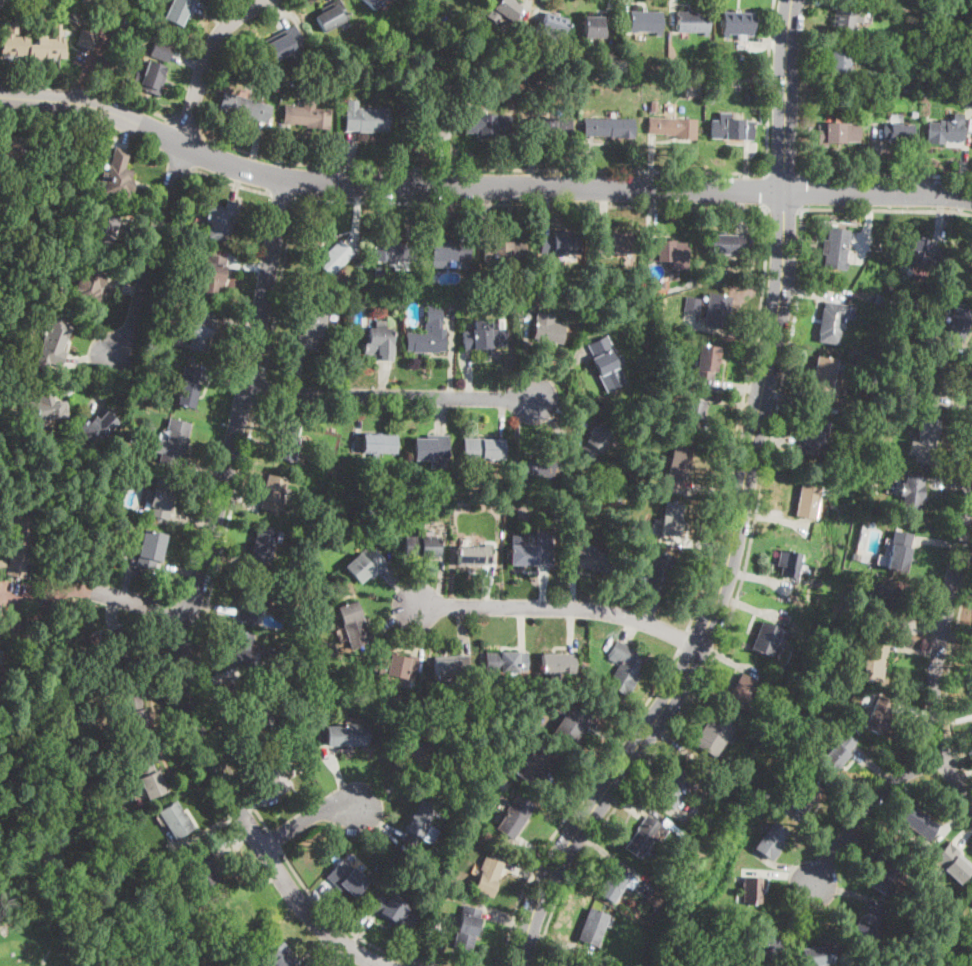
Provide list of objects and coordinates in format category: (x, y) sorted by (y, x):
building: (1, 1)
building: (73, 1)
building: (430, 2)
building: (372, 3)
building: (505, 9)
building: (180, 10)
building: (332, 15)
building: (846, 19)
building: (646, 22)
building: (693, 22)
building: (738, 24)
building: (556, 27)
building: (594, 27)
building: (904, 39)
building: (87, 40)
building: (284, 43)
building: (34, 44)
road: (99, 51)
building: (161, 51)
building: (506, 57)
building: (839, 61)
building: (394, 63)
building: (419, 63)
building: (516, 69)
building: (415, 76)
building: (152, 77)
building: (322, 80)
building: (536, 81)
building: (513, 86)
road: (769, 86)
building: (861, 89)
building: (907, 89)
building: (437, 91)
building: (756, 91)
road: (787, 96)
building: (968, 100)
road: (140, 105)
building: (653, 105)
road: (94, 106)
building: (245, 107)
building: (914, 112)
building: (307, 115)
building: (366, 118)
building: (427, 120)
building: (489, 124)
road: (185, 126)
building: (609, 127)
building: (676, 127)
building: (550, 128)
building: (730, 128)
building: (945, 131)
building: (837, 133)
building: (898, 133)
building: (15, 152)
road: (175, 168)
road: (480, 169)
road: (784, 174)
road: (886, 176)
building: (119, 177)
road: (229, 182)
road: (480, 186)
road: (767, 191)
road: (801, 191)
road: (878, 193)
road: (282, 195)
building: (2, 202)
road: (439, 203)
road: (784, 209)
road: (887, 210)
building: (221, 220)
building: (103, 229)
building: (615, 242)
building: (560, 243)
building: (728, 244)
building: (834, 248)
building: (447, 251)
building: (920, 251)
building: (394, 252)
building: (505, 252)
building: (668, 253)
building: (335, 258)
building: (358, 261)
building: (214, 275)
building: (744, 275)
building: (708, 278)
building: (90, 284)
building: (541, 285)
building: (879, 296)
building: (425, 297)
building: (692, 305)
building: (169, 306)
building: (717, 311)
building: (694, 316)
building: (686, 318)
building: (617, 319)
building: (830, 322)
building: (957, 323)
building: (200, 329)
building: (310, 330)
building: (547, 331)
building: (429, 333)
building: (485, 336)
building: (181, 341)
building: (55, 342)
building: (378, 343)
building: (338, 355)
building: (706, 362)
building: (606, 363)
building: (19, 364)
building: (824, 374)
building: (935, 376)
building: (189, 387)
road: (262, 388)
road: (391, 396)
building: (45, 410)
building: (694, 417)
road: (739, 420)
building: (99, 426)
building: (812, 437)
building: (133, 438)
building: (287, 439)
building: (926, 439)
building: (174, 442)
building: (596, 442)
building: (380, 444)
building: (876, 448)
building: (480, 449)
building: (431, 450)
building: (675, 466)
building: (541, 468)
building: (273, 493)
building: (617, 495)
building: (911, 496)
building: (162, 498)
building: (808, 501)
building: (349, 507)
building: (557, 515)
building: (673, 519)
building: (630, 528)
building: (781, 541)
building: (18, 542)
building: (264, 544)
building: (421, 546)
building: (150, 548)
building: (899, 551)
building: (532, 552)
building: (624, 554)
building: (474, 555)
building: (855, 555)
building: (599, 561)
building: (788, 563)
building: (367, 564)
building: (657, 572)
building: (630, 578)
building: (251, 595)
road: (47, 599)
building: (885, 600)
road: (716, 601)
road: (144, 604)
road: (193, 604)
road: (560, 606)
road: (733, 611)
road: (205, 620)
building: (353, 624)
building: (765, 638)
road: (684, 640)
road: (937, 648)
building: (118, 649)
building: (0, 651)
building: (236, 654)
building: (1, 658)
building: (508, 660)
building: (555, 661)
building: (874, 664)
building: (623, 666)
building: (392, 667)
building: (451, 669)
road: (950, 669)
building: (309, 676)
building: (742, 693)
building: (255, 707)
building: (814, 712)
building: (136, 716)
building: (878, 716)
building: (320, 721)
building: (570, 724)
building: (477, 725)
building: (348, 735)
building: (714, 735)
building: (837, 752)
building: (419, 753)
building: (292, 755)
building: (538, 764)
building: (145, 773)
building: (275, 778)
building: (675, 786)
building: (806, 798)
road: (578, 802)
road: (866, 807)
building: (515, 817)
building: (175, 820)
road: (309, 820)
building: (917, 821)
building: (422, 823)
building: (642, 838)
road: (274, 840)
building: (769, 841)
building: (950, 863)
building: (202, 871)
building: (884, 875)
building: (346, 878)
building: (490, 878)
building: (614, 884)
building: (753, 895)
building: (656, 898)
building: (970, 900)
building: (395, 912)
building: (236, 914)
building: (866, 924)
road: (342, 925)
building: (465, 927)
building: (593, 928)
building: (765, 942)
building: (255, 951)
building: (277, 953)
building: (817, 956)
building: (571, 963)
building: (763, 963)
building: (933, 964)

